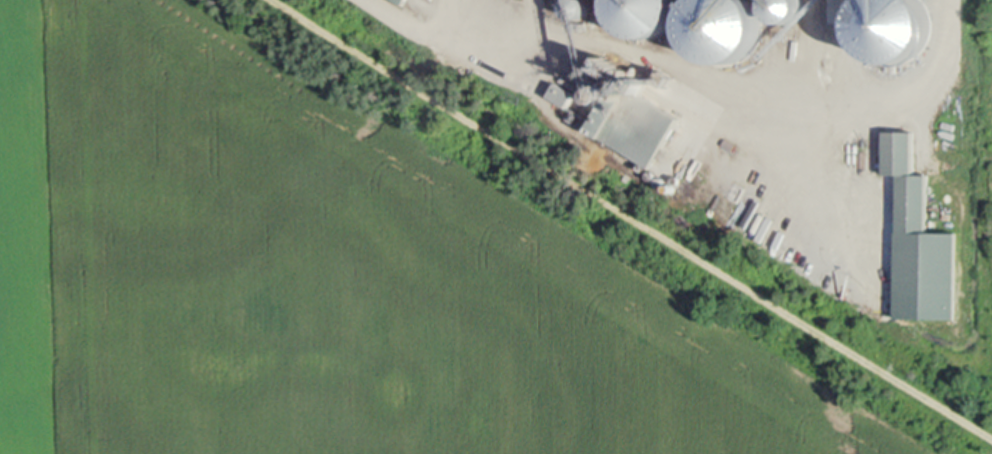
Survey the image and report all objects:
building: (405, 0)
road: (485, 6)
building: (645, 16)
building: (634, 118)
road: (633, 217)

